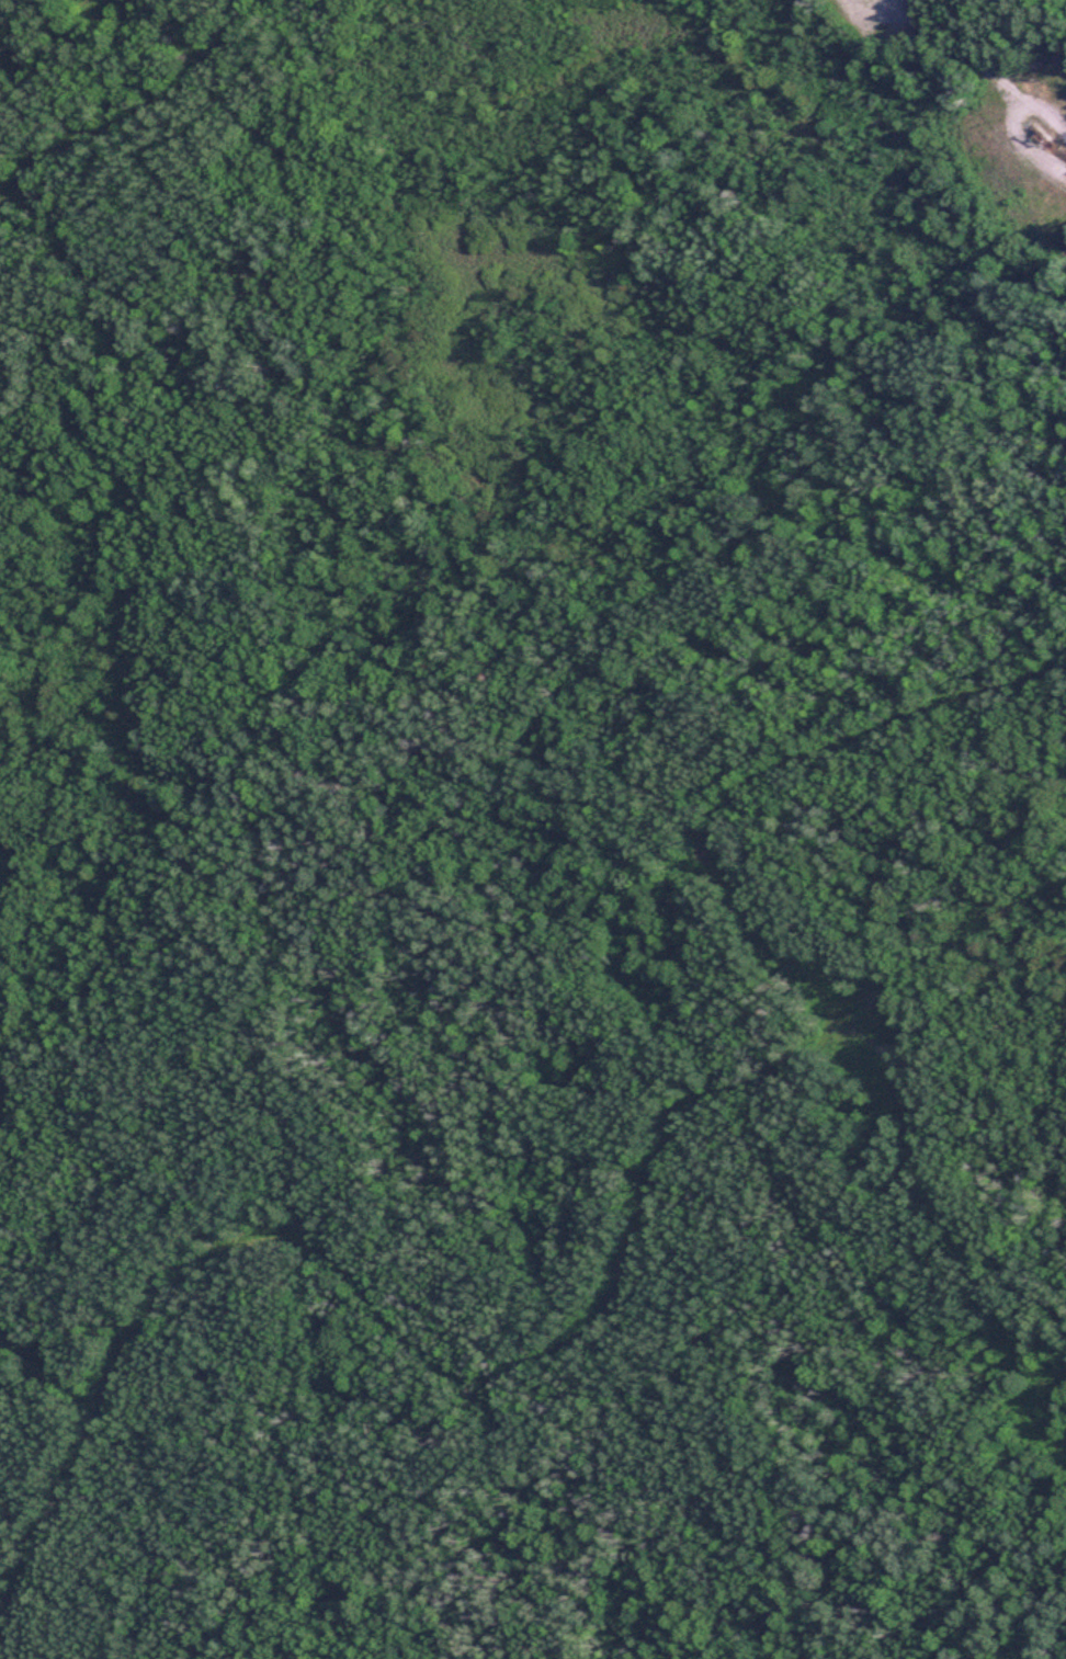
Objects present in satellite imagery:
road: (974, 88)
road: (138, 100)
petroleum well: (1040, 135)
road: (769, 787)

